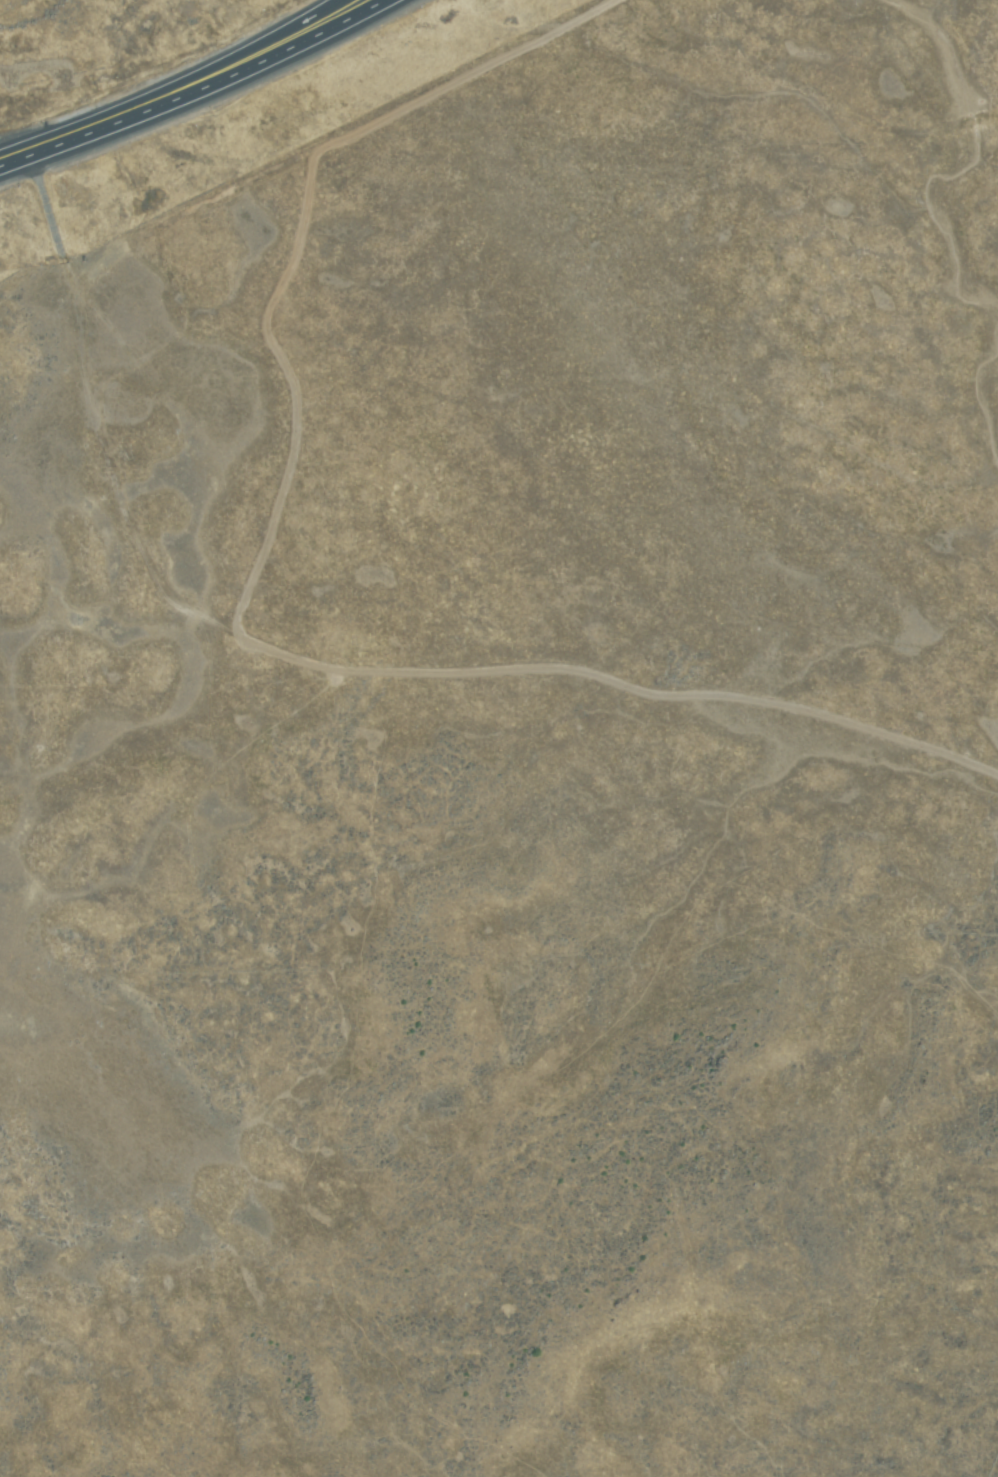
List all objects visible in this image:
road: (316, 23)
road: (340, 26)
road: (142, 110)

